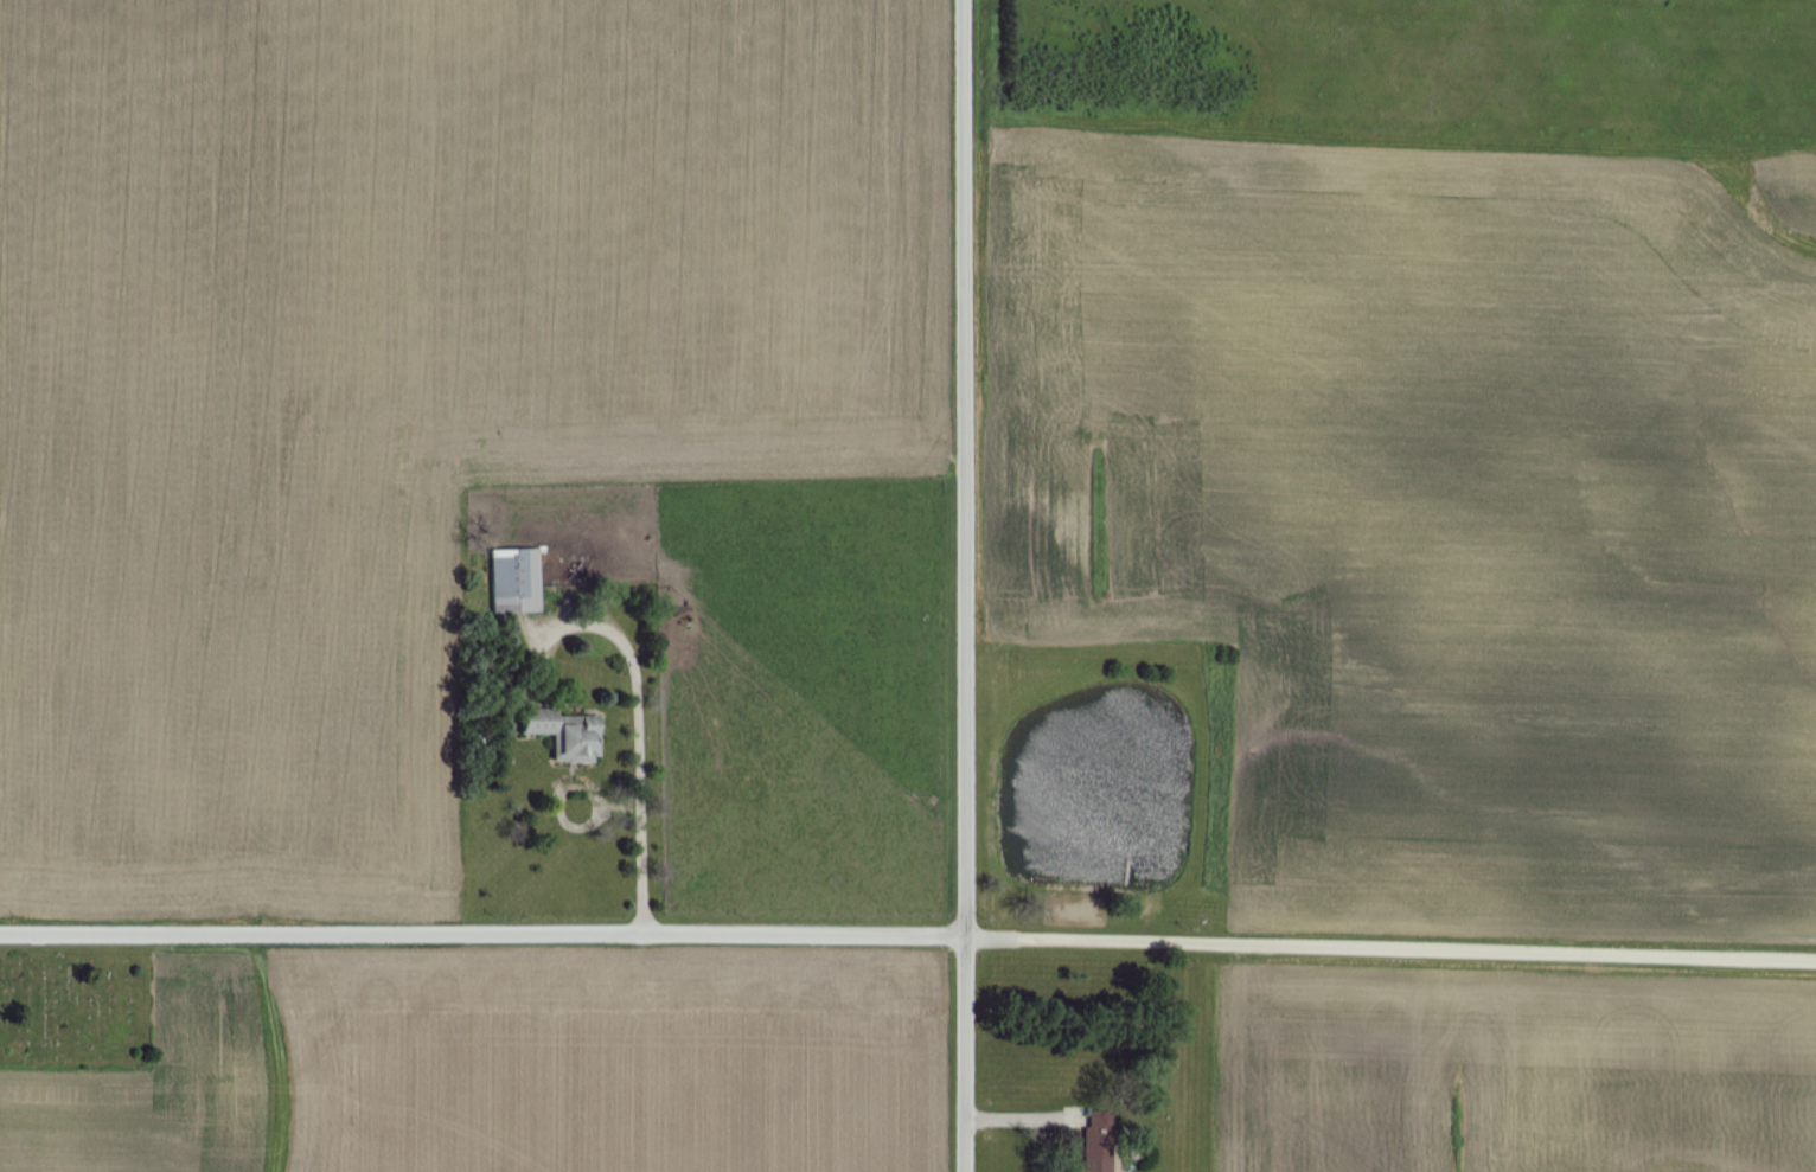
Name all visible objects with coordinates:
building: (513, 579)
road: (960, 585)
building: (568, 731)
road: (640, 742)
road: (908, 936)
park: (76, 1011)

